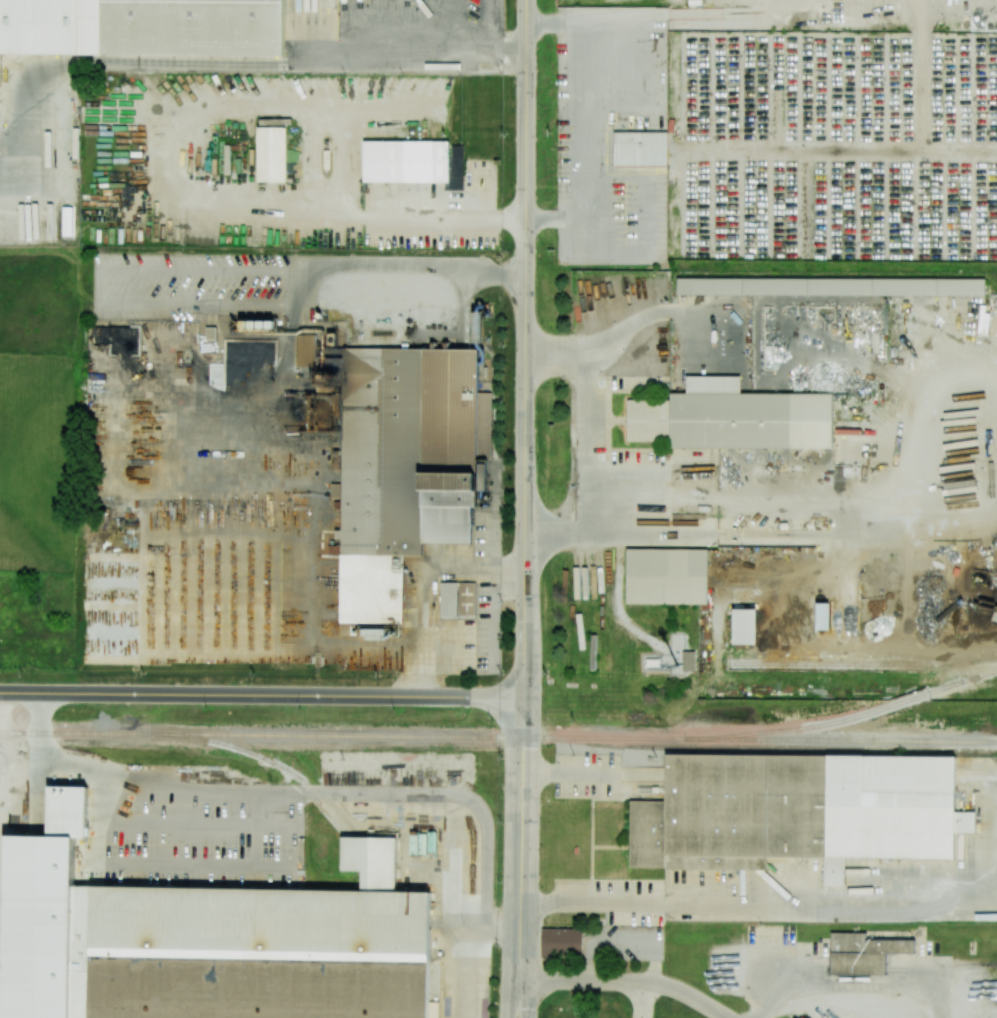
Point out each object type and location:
building: (142, 27)
road: (415, 53)
road: (586, 120)
building: (640, 147)
building: (272, 152)
building: (408, 160)
building: (455, 168)
road: (449, 218)
road: (447, 280)
building: (830, 286)
building: (477, 325)
road: (526, 348)
building: (751, 421)
road: (592, 450)
building: (400, 461)
building: (666, 574)
road: (423, 582)
building: (458, 599)
building: (745, 623)
building: (688, 661)
railway: (865, 663)
road: (262, 695)
railway: (853, 717)
road: (25, 727)
railway: (498, 736)
railway: (274, 761)
road: (12, 773)
road: (571, 774)
road: (358, 794)
building: (893, 805)
road: (521, 857)
road: (759, 899)
building: (35, 926)
road: (501, 930)
building: (562, 942)
building: (863, 953)
road: (627, 983)
road: (642, 1001)

